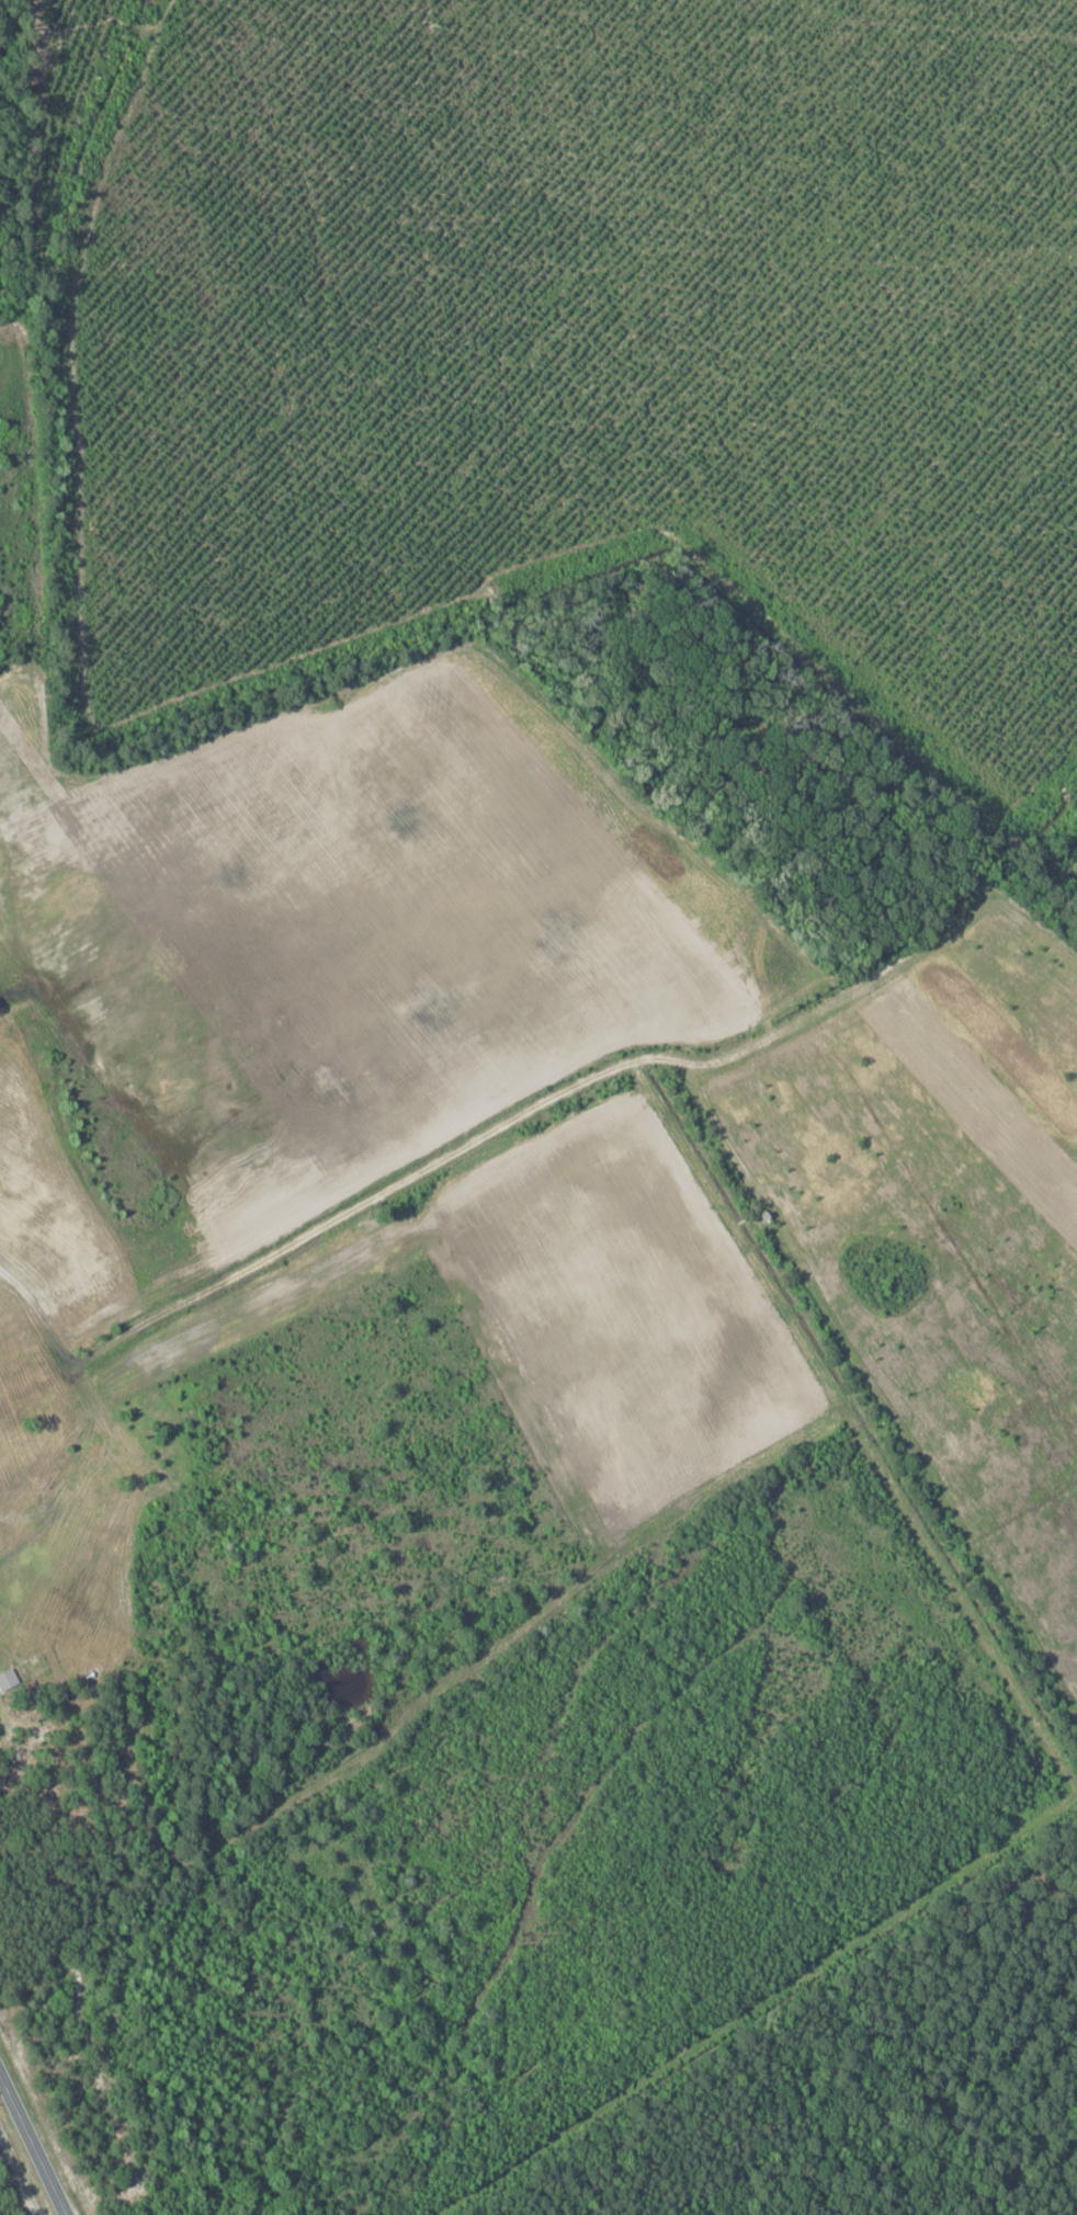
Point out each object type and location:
building: (9, 1678)
road: (33, 2143)

